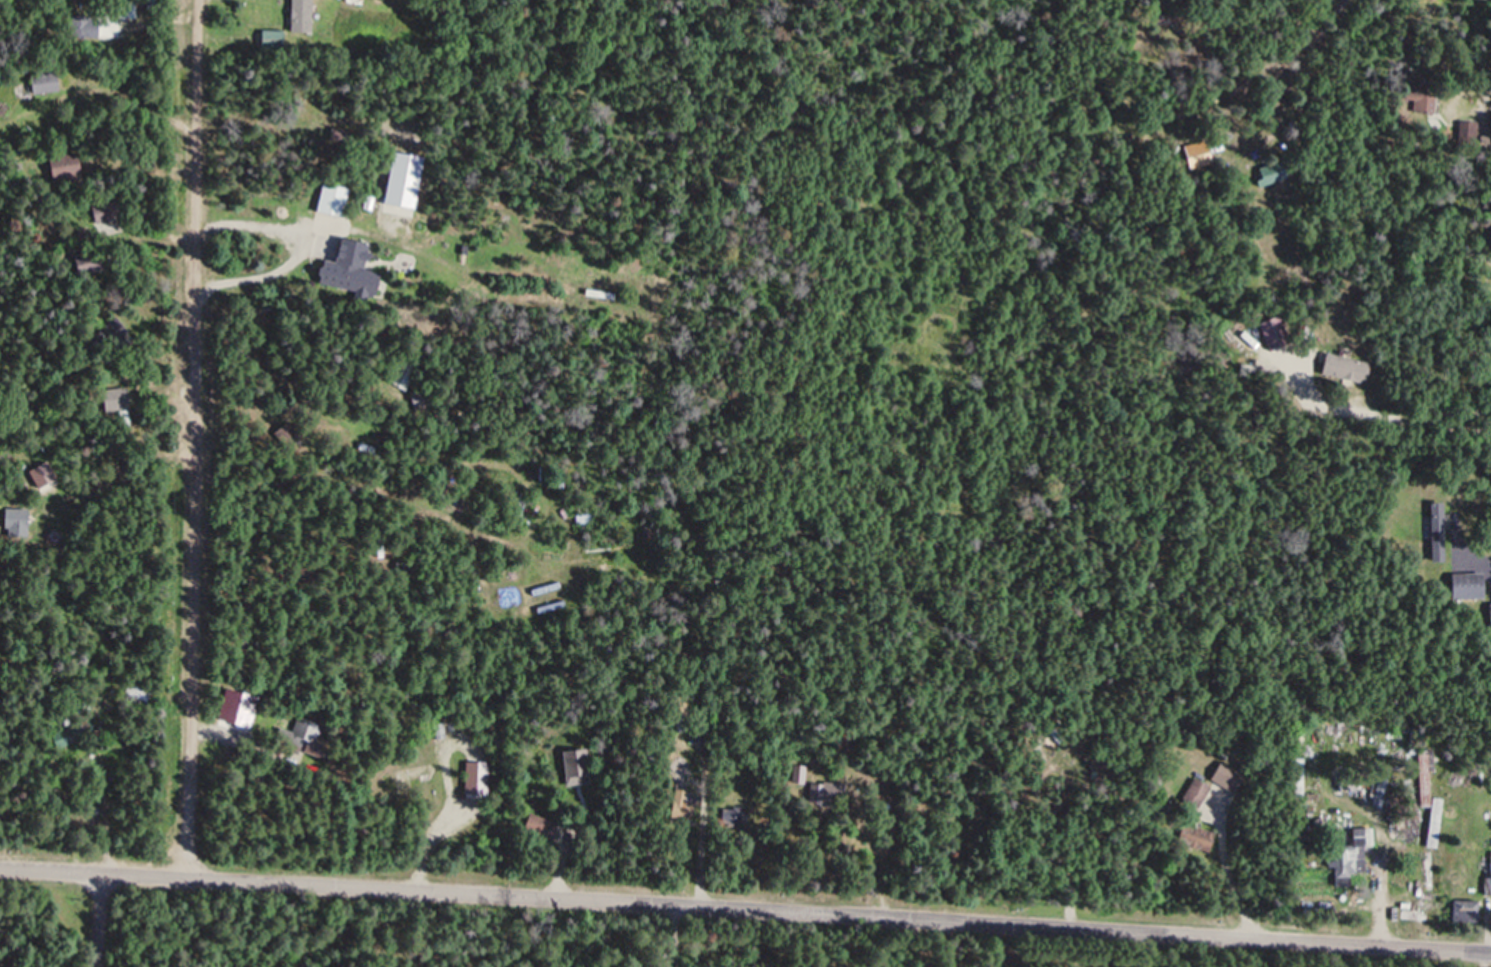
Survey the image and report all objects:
building: (301, 15)
building: (48, 82)
building: (1420, 102)
building: (66, 168)
building: (1272, 173)
building: (402, 180)
building: (332, 200)
building: (108, 209)
building: (349, 271)
building: (1273, 333)
building: (1346, 369)
building: (404, 374)
building: (118, 399)
road: (1410, 417)
road: (201, 436)
building: (47, 475)
building: (1437, 532)
building: (1469, 586)
building: (440, 731)
building: (301, 735)
building: (574, 767)
building: (413, 775)
building: (799, 775)
building: (1227, 777)
building: (1425, 778)
building: (1196, 793)
building: (539, 827)
building: (1197, 838)
building: (1347, 862)
building: (1490, 863)
road: (746, 897)
building: (1464, 910)
road: (105, 917)
road: (670, 930)
park: (313, 931)
road: (983, 939)

